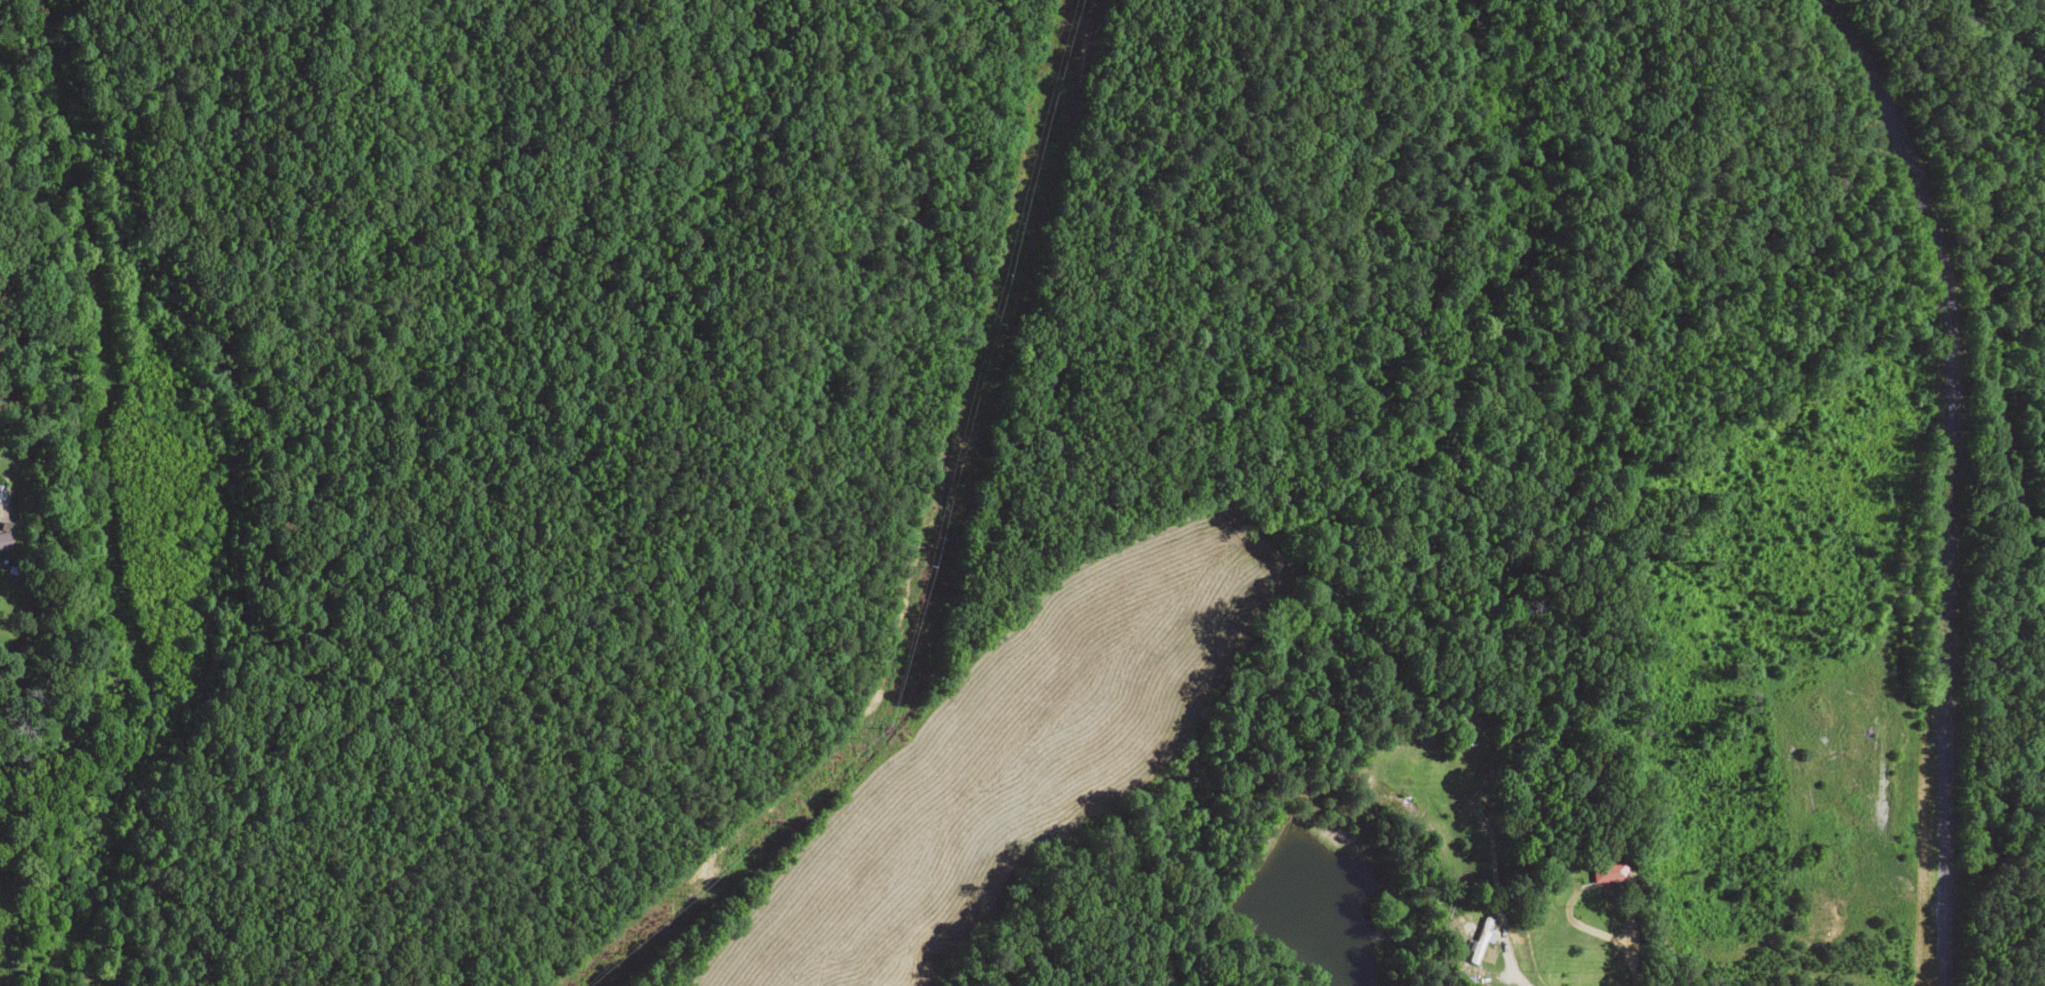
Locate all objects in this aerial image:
road: (1929, 479)
building: (4, 540)
building: (1606, 873)
road: (1456, 903)
building: (1479, 939)
road: (1135, 955)

